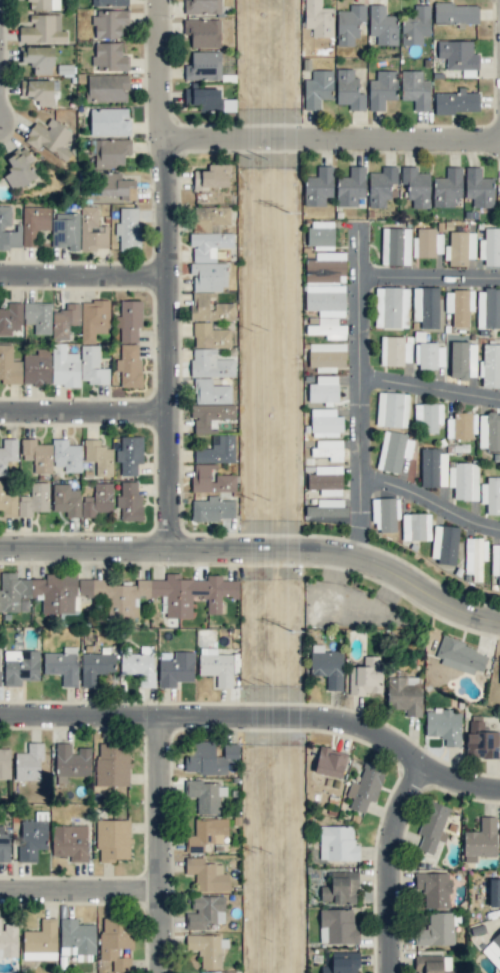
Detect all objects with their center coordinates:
building: (109, 3)
building: (43, 4)
building: (202, 7)
building: (455, 13)
building: (318, 18)
building: (109, 23)
building: (349, 24)
building: (382, 25)
building: (416, 25)
building: (42, 29)
building: (203, 32)
building: (458, 55)
building: (109, 57)
building: (39, 59)
building: (204, 66)
building: (107, 88)
building: (318, 88)
building: (382, 89)
building: (415, 89)
building: (348, 90)
building: (39, 91)
building: (206, 99)
building: (456, 102)
building: (109, 121)
building: (49, 138)
road: (332, 147)
building: (110, 152)
building: (20, 169)
building: (212, 177)
building: (381, 185)
building: (116, 186)
building: (318, 186)
building: (416, 186)
building: (350, 187)
building: (447, 187)
building: (478, 188)
power tower: (289, 215)
building: (210, 217)
building: (34, 223)
building: (128, 228)
building: (8, 230)
building: (65, 230)
building: (92, 230)
building: (320, 234)
building: (427, 243)
building: (209, 245)
building: (395, 246)
building: (490, 247)
building: (460, 248)
building: (208, 277)
road: (171, 278)
road: (86, 284)
road: (428, 288)
building: (326, 293)
building: (224, 306)
building: (425, 306)
building: (459, 306)
building: (391, 307)
building: (488, 308)
building: (38, 316)
building: (10, 318)
building: (94, 319)
building: (65, 320)
building: (129, 320)
building: (210, 336)
building: (395, 351)
building: (429, 355)
building: (326, 356)
road: (358, 356)
building: (462, 360)
building: (210, 364)
building: (9, 365)
building: (129, 365)
building: (64, 366)
building: (92, 366)
building: (490, 366)
building: (36, 367)
building: (323, 389)
building: (210, 392)
road: (429, 398)
building: (392, 409)
building: (210, 416)
building: (427, 417)
road: (86, 420)
building: (325, 423)
building: (459, 426)
building: (489, 431)
building: (328, 449)
building: (217, 450)
building: (393, 451)
building: (8, 453)
building: (129, 454)
building: (37, 455)
building: (66, 455)
building: (98, 457)
building: (433, 468)
building: (211, 479)
building: (326, 480)
building: (463, 480)
building: (491, 494)
building: (8, 500)
building: (34, 500)
building: (66, 500)
building: (97, 500)
building: (129, 502)
building: (212, 509)
building: (327, 510)
road: (427, 511)
building: (385, 514)
road: (359, 523)
building: (416, 526)
building: (444, 544)
building: (475, 556)
road: (257, 557)
building: (495, 562)
building: (38, 593)
building: (160, 594)
power tower: (291, 633)
building: (460, 655)
building: (62, 665)
building: (139, 665)
building: (20, 666)
building: (216, 666)
building: (327, 666)
building: (95, 667)
building: (175, 667)
building: (499, 671)
building: (366, 676)
building: (405, 694)
road: (257, 725)
building: (444, 725)
building: (480, 739)
building: (208, 757)
building: (71, 762)
building: (330, 762)
building: (5, 763)
building: (29, 763)
building: (112, 764)
building: (365, 786)
building: (206, 795)
building: (432, 827)
building: (206, 834)
building: (32, 837)
building: (113, 839)
building: (480, 840)
building: (70, 842)
building: (337, 843)
building: (4, 846)
road: (163, 848)
road: (391, 867)
building: (206, 874)
building: (340, 888)
building: (434, 888)
building: (494, 892)
road: (82, 896)
building: (205, 913)
building: (337, 926)
building: (436, 930)
building: (77, 939)
building: (8, 940)
building: (41, 941)
building: (116, 941)
building: (205, 949)
building: (493, 950)
building: (342, 963)
building: (433, 964)

